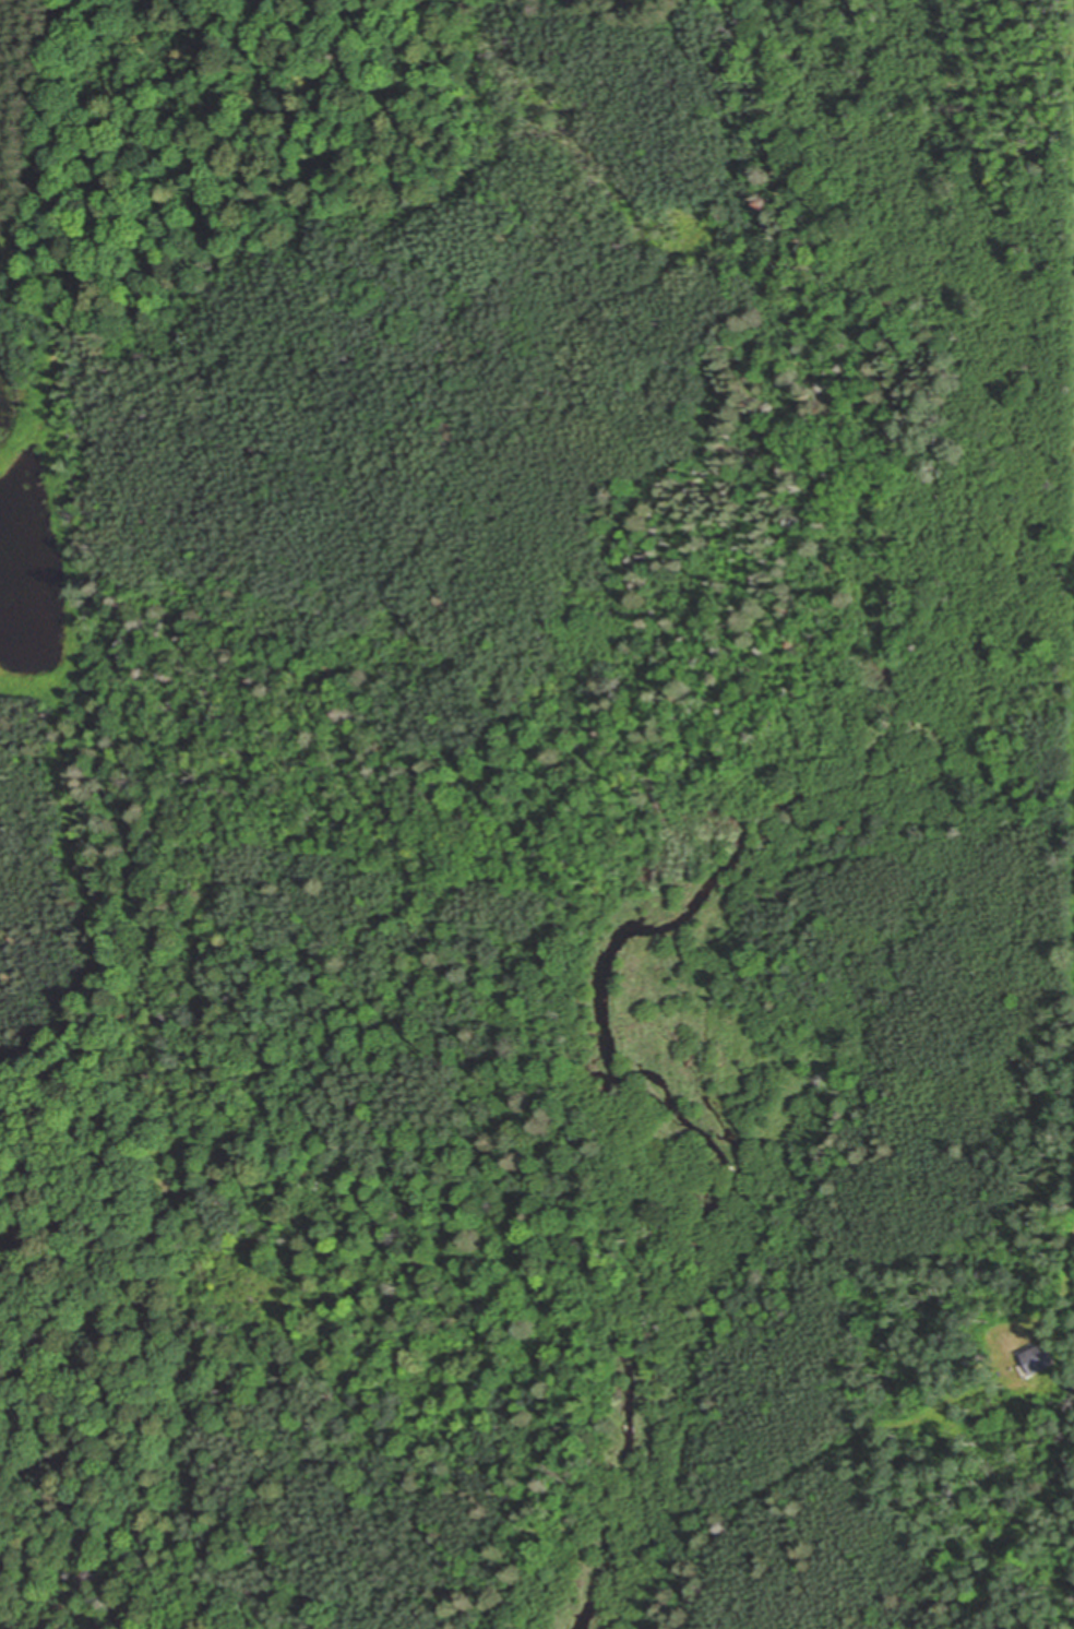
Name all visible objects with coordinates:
building: (1040, 1360)

